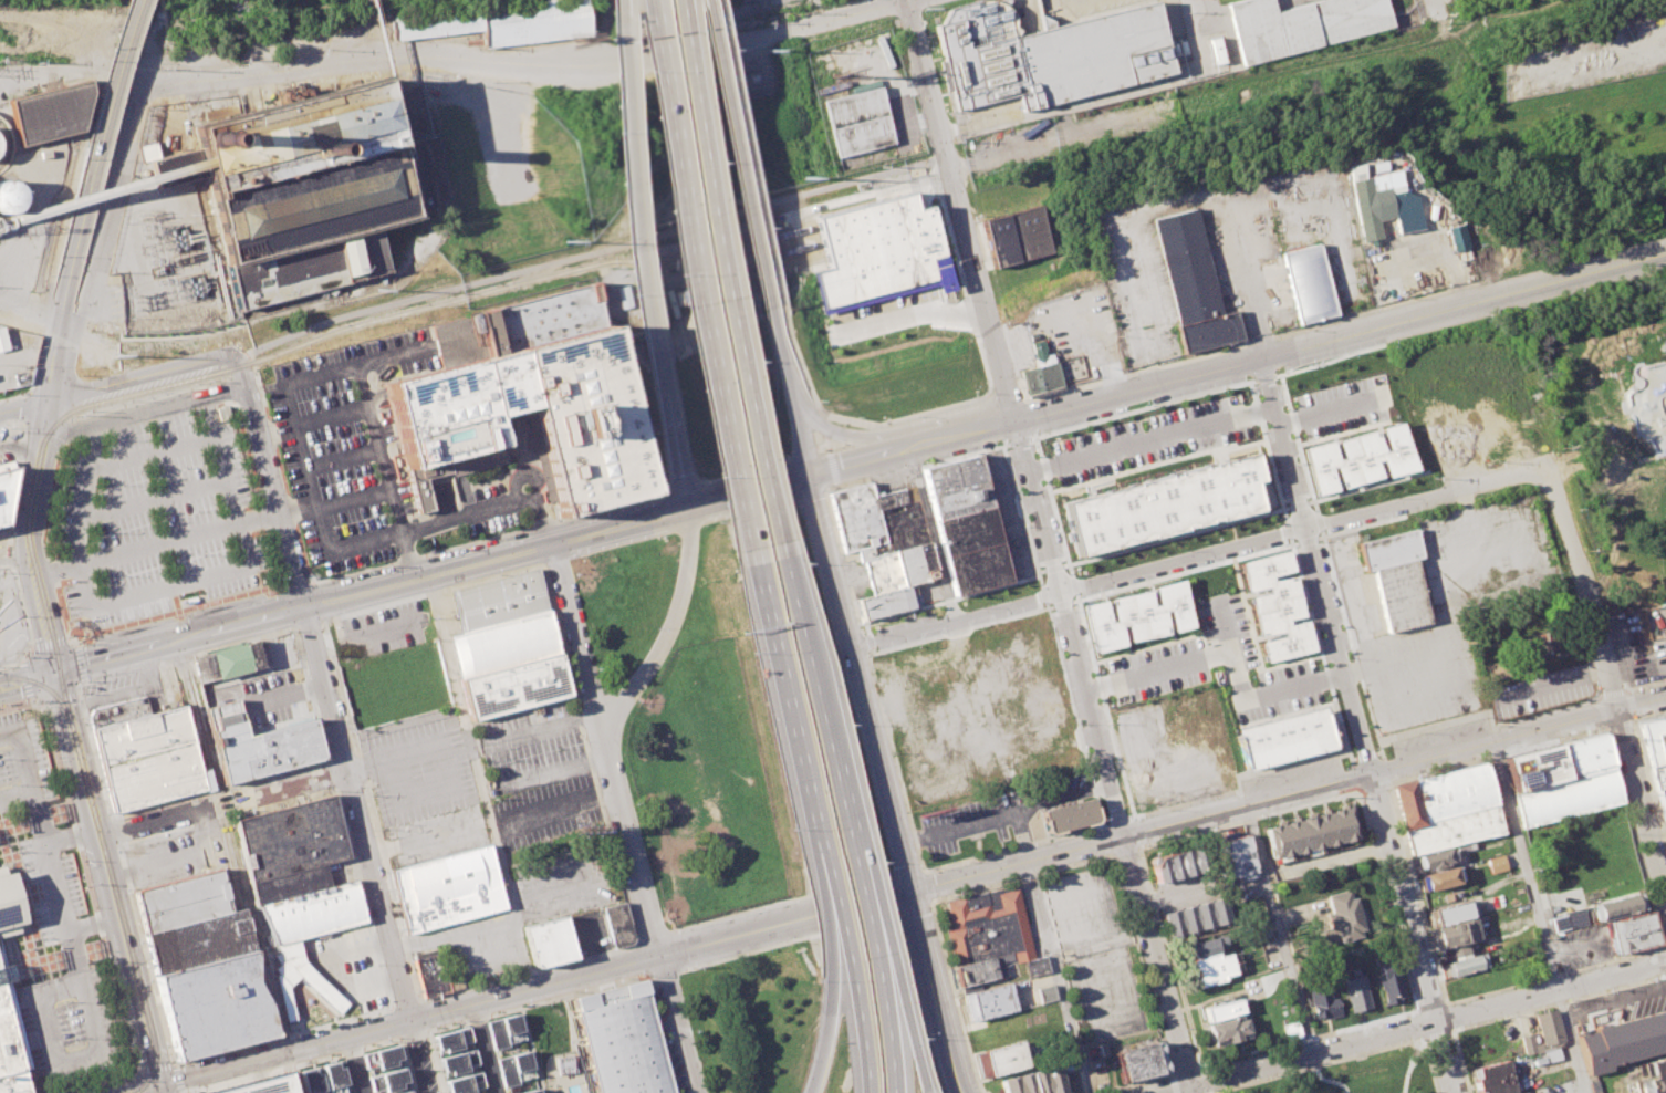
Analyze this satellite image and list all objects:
road: (1434, 8)
building: (532, 20)
building: (436, 21)
building: (1300, 24)
building: (1216, 50)
building: (1048, 53)
road: (530, 66)
road: (71, 70)
street lamp: (631, 73)
building: (857, 106)
building: (51, 112)
building: (865, 135)
railway: (92, 147)
road: (94, 148)
railway: (103, 148)
road: (743, 152)
road: (732, 153)
road: (935, 158)
street lamp: (708, 165)
road: (621, 176)
building: (303, 187)
building: (10, 196)
building: (1375, 207)
road: (960, 209)
road: (108, 212)
railway: (854, 218)
road: (693, 227)
railway: (858, 235)
building: (1018, 236)
building: (1464, 237)
railway: (742, 248)
building: (877, 248)
railway: (863, 250)
railway: (770, 258)
power substation: (170, 260)
street lamp: (668, 277)
road: (698, 280)
road: (720, 280)
building: (1191, 283)
building: (1310, 283)
road: (1464, 306)
parking lot: (882, 312)
road: (907, 312)
road: (345, 314)
building: (534, 319)
road: (1251, 319)
building: (2, 340)
road: (51, 348)
railway: (281, 350)
power substation: (17, 356)
road: (780, 360)
road: (793, 362)
street lamp: (751, 369)
road: (153, 372)
railway: (53, 375)
road: (1278, 375)
building: (1041, 376)
road: (1266, 377)
road: (1254, 378)
road: (14, 396)
park: (1645, 405)
road: (22, 406)
road: (1144, 406)
parking lot: (1345, 406)
road: (24, 407)
road: (945, 407)
road: (1333, 409)
road: (139, 412)
road: (1032, 414)
road: (330, 416)
road: (368, 416)
road: (40, 419)
road: (848, 419)
road: (823, 420)
road: (21, 424)
road: (670, 429)
road: (41, 434)
road: (845, 434)
road: (17, 438)
building: (446, 438)
parking lot: (1149, 438)
road: (1150, 440)
road: (799, 445)
road: (827, 448)
parking lot: (4, 450)
road: (149, 451)
parking lot: (361, 454)
road: (341, 458)
building: (1368, 458)
road: (303, 467)
road: (524, 475)
street lamp: (712, 476)
railway: (28, 485)
building: (955, 486)
building: (4, 491)
road: (746, 492)
railway: (21, 495)
road: (272, 495)
road: (152, 499)
road: (352, 499)
road: (1035, 502)
building: (1169, 504)
road: (1316, 504)
road: (485, 506)
parking lot: (155, 509)
road: (1299, 525)
road: (1360, 527)
road: (930, 531)
parking lot: (1, 532)
road: (34, 533)
building: (884, 533)
road: (1308, 540)
road: (7, 542)
road: (50, 543)
road: (150, 544)
building: (1391, 549)
building: (971, 550)
road: (9, 551)
road: (21, 555)
road: (493, 555)
street lamp: (799, 562)
road: (1315, 565)
road: (1187, 570)
road: (165, 587)
road: (1356, 591)
building: (1402, 594)
building: (498, 601)
building: (884, 602)
building: (1274, 605)
road: (951, 614)
building: (1136, 614)
road: (249, 618)
road: (1049, 618)
road: (320, 621)
building: (10, 623)
road: (306, 624)
road: (294, 627)
road: (666, 628)
parking lot: (378, 631)
road: (576, 638)
parking lot: (1643, 641)
building: (502, 643)
building: (1540, 643)
road: (129, 649)
street lamp: (746, 652)
road: (183, 656)
road: (1412, 657)
building: (226, 660)
road: (79, 662)
road: (1628, 662)
parking lot: (1254, 663)
building: (1497, 668)
road: (56, 669)
road: (1158, 669)
parking lot: (1157, 670)
road: (24, 673)
road: (287, 675)
road: (83, 680)
road: (25, 683)
building: (513, 684)
railway: (46, 687)
road: (1607, 687)
parking lot: (125, 688)
road: (1625, 691)
road: (1247, 696)
road: (1629, 705)
road: (785, 707)
road: (1599, 710)
building: (117, 711)
road: (818, 711)
building: (1664, 719)
street lamp: (841, 721)
road: (1508, 721)
building: (1283, 737)
parking lot: (1439, 737)
building: (259, 745)
parking lot: (534, 748)
building: (1655, 748)
road: (20, 753)
building: (1584, 754)
road: (1365, 756)
road: (1379, 756)
building: (147, 758)
building: (1534, 767)
parking lot: (417, 768)
road: (90, 771)
road: (1383, 771)
road: (74, 773)
parking lot: (1291, 774)
road: (1648, 781)
road: (882, 784)
road: (14, 792)
road: (1287, 793)
building: (1565, 797)
building: (1662, 800)
building: (1406, 803)
road: (219, 804)
building: (1452, 809)
parking lot: (544, 811)
road: (1002, 815)
building: (1069, 815)
street lamp: (788, 829)
building: (1665, 830)
building: (1311, 832)
parking lot: (434, 835)
road: (1020, 835)
road: (1122, 835)
road: (1633, 836)
road: (67, 839)
building: (290, 839)
road: (631, 844)
road: (366, 847)
road: (857, 850)
building: (1232, 856)
road: (169, 857)
road: (48, 858)
parking lot: (169, 858)
building: (1433, 858)
road: (824, 862)
building: (1495, 863)
road: (819, 864)
building: (1178, 864)
road: (84, 867)
building: (1439, 877)
parking lot: (564, 883)
building: (289, 885)
building: (448, 888)
road: (1415, 893)
building: (183, 901)
building: (9, 902)
road: (927, 902)
building: (1615, 906)
road: (878, 908)
road: (864, 912)
building: (1450, 912)
building: (313, 913)
parking lot: (1082, 913)
railway: (121, 914)
building: (1342, 915)
building: (1195, 916)
road: (1535, 916)
road: (840, 917)
building: (1574, 917)
road: (823, 919)
building: (1559, 923)
building: (617, 924)
building: (987, 926)
road: (1279, 928)
road: (1412, 931)
building: (1633, 931)
parking lot: (54, 933)
parking lot: (587, 933)
building: (1455, 935)
building: (198, 941)
building: (549, 941)
parking lot: (473, 945)
road: (1665, 945)
building: (1207, 946)
parking lot: (1579, 946)
road: (1569, 948)
road: (1664, 957)
building: (1465, 965)
building: (1035, 966)
building: (1210, 968)
building: (975, 971)
building: (430, 974)
road: (1553, 975)
road: (1055, 976)
road: (134, 979)
street lamp: (814, 979)
building: (284, 980)
building: (1387, 982)
road: (415, 983)
road: (533, 987)
parking lot: (1102, 992)
building: (1354, 992)
building: (1045, 993)
road: (418, 1001)
building: (987, 1001)
building: (1320, 1001)
road: (1560, 1001)
road: (404, 1003)
building: (215, 1004)
road: (1427, 1006)
parking lot: (1618, 1006)
building: (1220, 1009)
road: (1448, 1014)
road: (678, 1022)
road: (884, 1023)
road: (904, 1023)
road: (860, 1027)
road: (1410, 1028)
building: (1290, 1029)
road: (825, 1030)
building: (1225, 1030)
building: (506, 1031)
building: (1543, 1032)
road: (662, 1033)
road: (1436, 1033)
road: (282, 1034)
road: (94, 1037)
street lamp: (917, 1038)
building: (8, 1039)
road: (1306, 1039)
building: (452, 1040)
building: (622, 1040)
building: (1622, 1041)
road: (579, 1043)
road: (485, 1048)
building: (1006, 1056)
building: (382, 1059)
road: (1458, 1059)
road: (1409, 1060)
building: (1135, 1062)
building: (459, 1063)
road: (353, 1064)
building: (563, 1064)
road: (1428, 1064)
road: (1314, 1065)
road: (157, 1068)
building: (516, 1068)
building: (1652, 1068)
road: (287, 1073)
park: (1353, 1073)
road: (177, 1078)
building: (336, 1078)
building: (1492, 1078)
road: (100, 1081)
building: (311, 1081)
building: (1033, 1081)
building: (388, 1082)
building: (13, 1083)
traffic signals: (160, 1084)
building: (466, 1084)
building: (1653, 1084)
road: (139, 1085)
building: (252, 1085)
road: (144, 1089)
road: (162, 1089)
road: (1188, 1089)
building: (531, 1091)
road: (178, 1092)
building: (407, 1092)
building: (1522, 1092)

